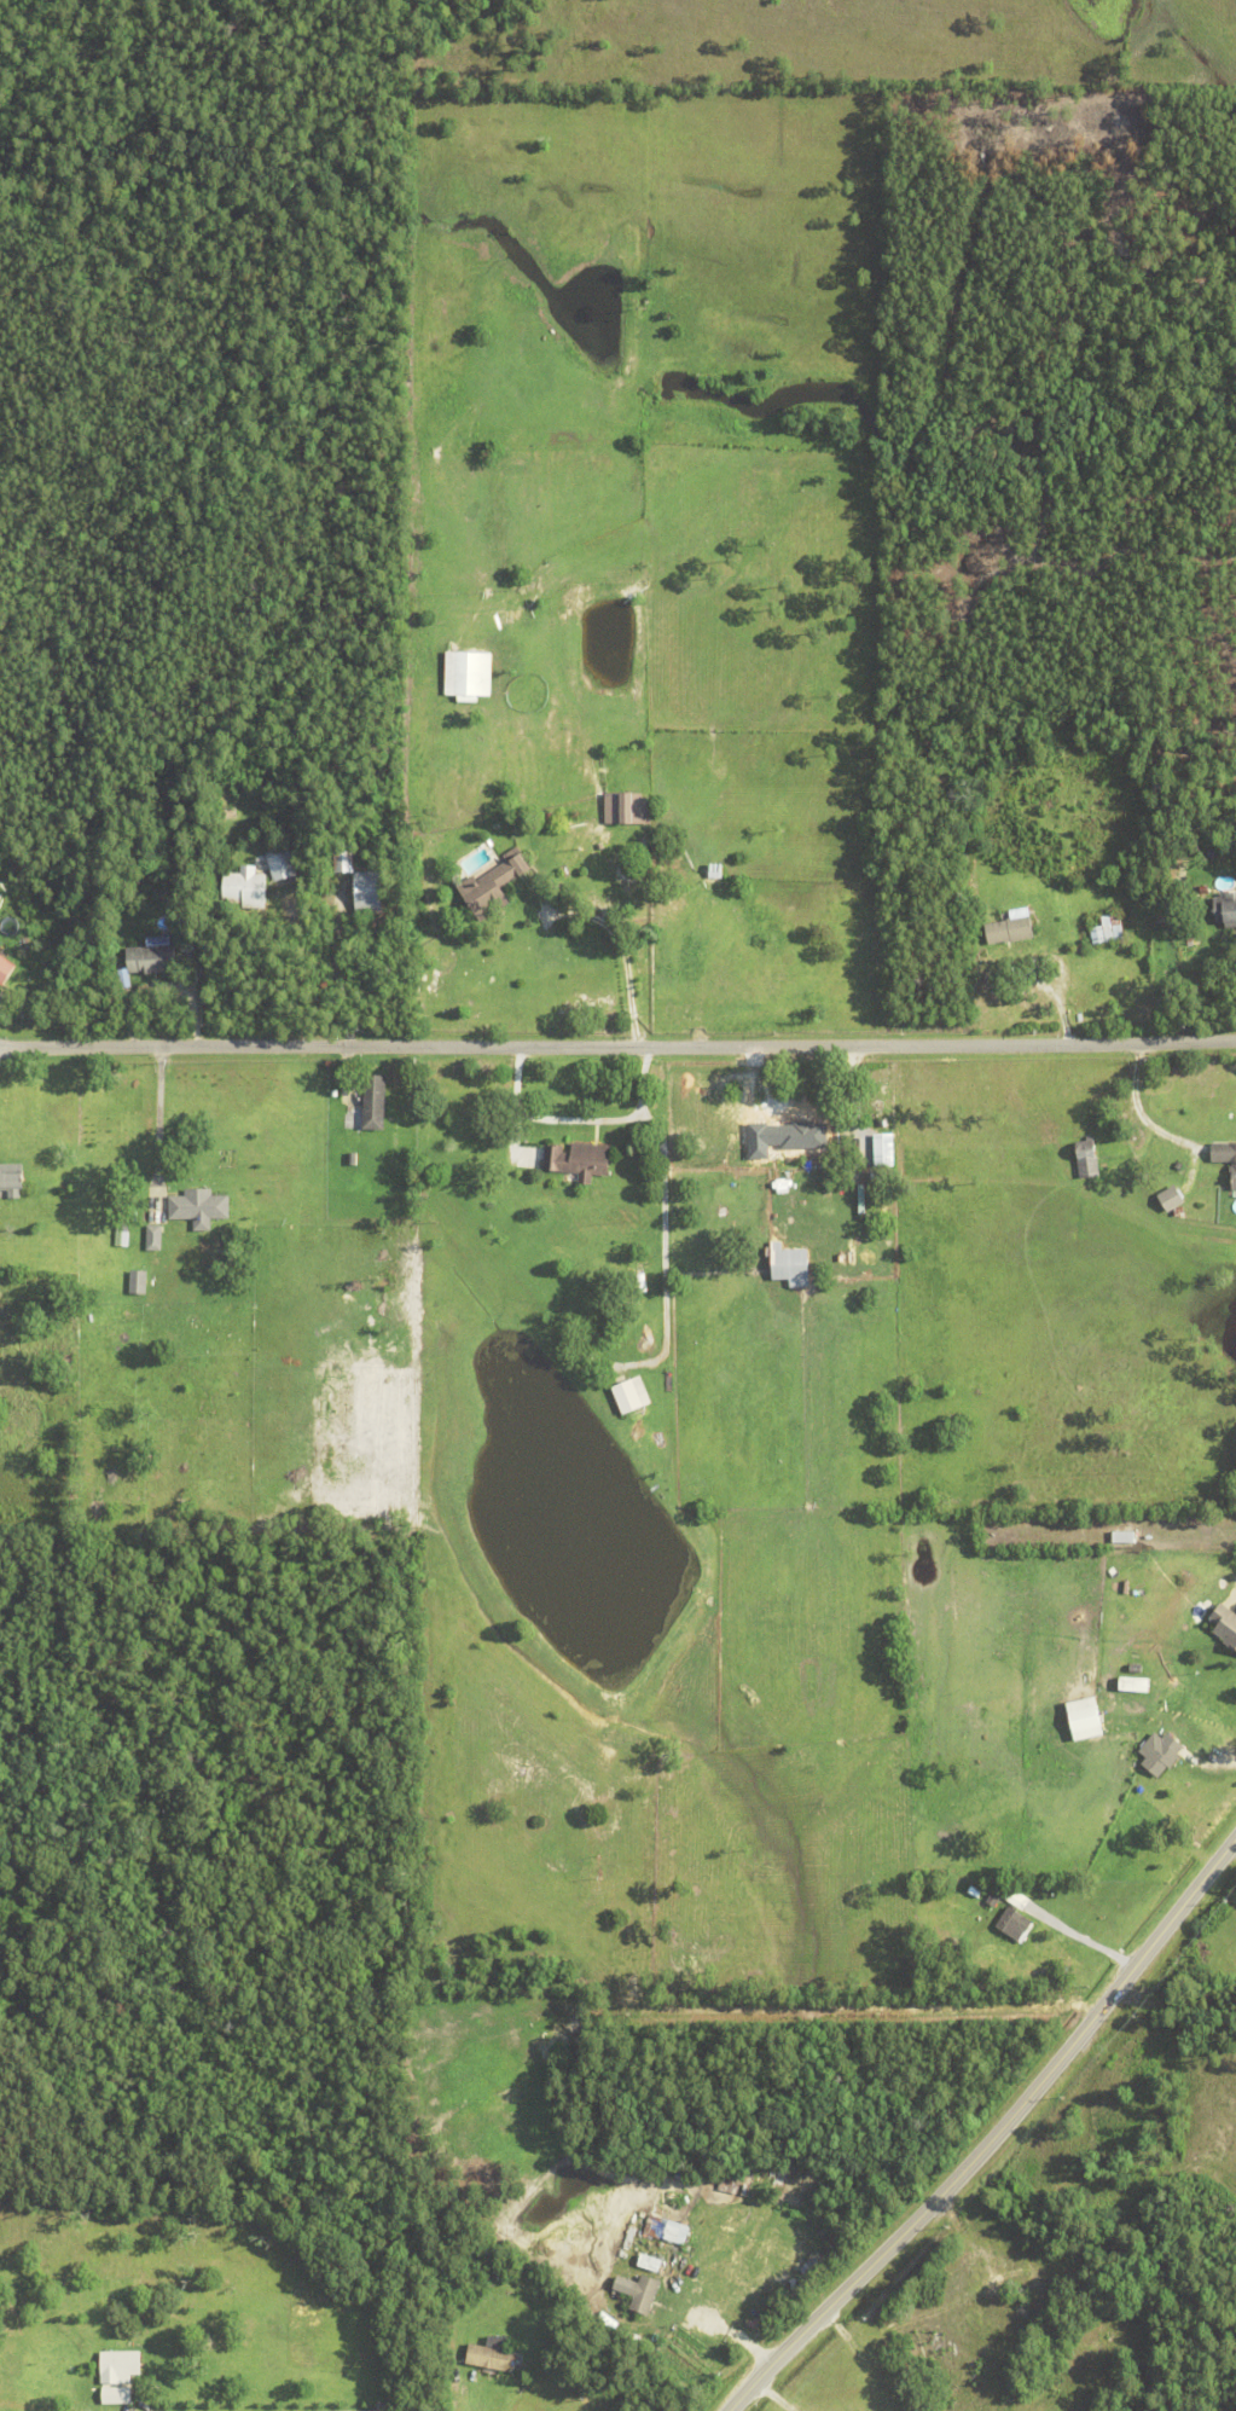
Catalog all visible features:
building: (468, 674)
building: (626, 809)
building: (1211, 853)
building: (343, 860)
building: (282, 865)
building: (715, 870)
building: (492, 887)
building: (245, 888)
building: (1205, 889)
building: (367, 892)
building: (1229, 910)
building: (1010, 928)
building: (1107, 929)
building: (151, 960)
building: (2, 976)
road: (617, 1047)
building: (373, 1103)
road: (152, 1113)
building: (883, 1124)
building: (810, 1141)
building: (883, 1151)
building: (1225, 1158)
building: (581, 1161)
building: (1086, 1161)
building: (10, 1181)
building: (1170, 1199)
building: (198, 1207)
building: (4, 1210)
building: (121, 1234)
building: (153, 1238)
building: (789, 1267)
building: (138, 1283)
building: (640, 1283)
building: (631, 1285)
building: (631, 1396)
building: (654, 1444)
building: (1122, 1538)
road: (1230, 1593)
building: (1207, 1605)
building: (1225, 1628)
building: (1136, 1670)
building: (1085, 1721)
building: (1160, 1755)
building: (992, 1902)
building: (1012, 1926)
road: (996, 2137)
building: (733, 2186)
building: (656, 2225)
building: (680, 2237)
building: (652, 2262)
building: (643, 2291)
building: (497, 2337)
building: (492, 2354)
building: (1052, 2354)
building: (114, 2369)
building: (944, 2377)
building: (72, 2394)
road: (484, 2396)
road: (774, 2396)
building: (27, 2405)
road: (312, 2410)

